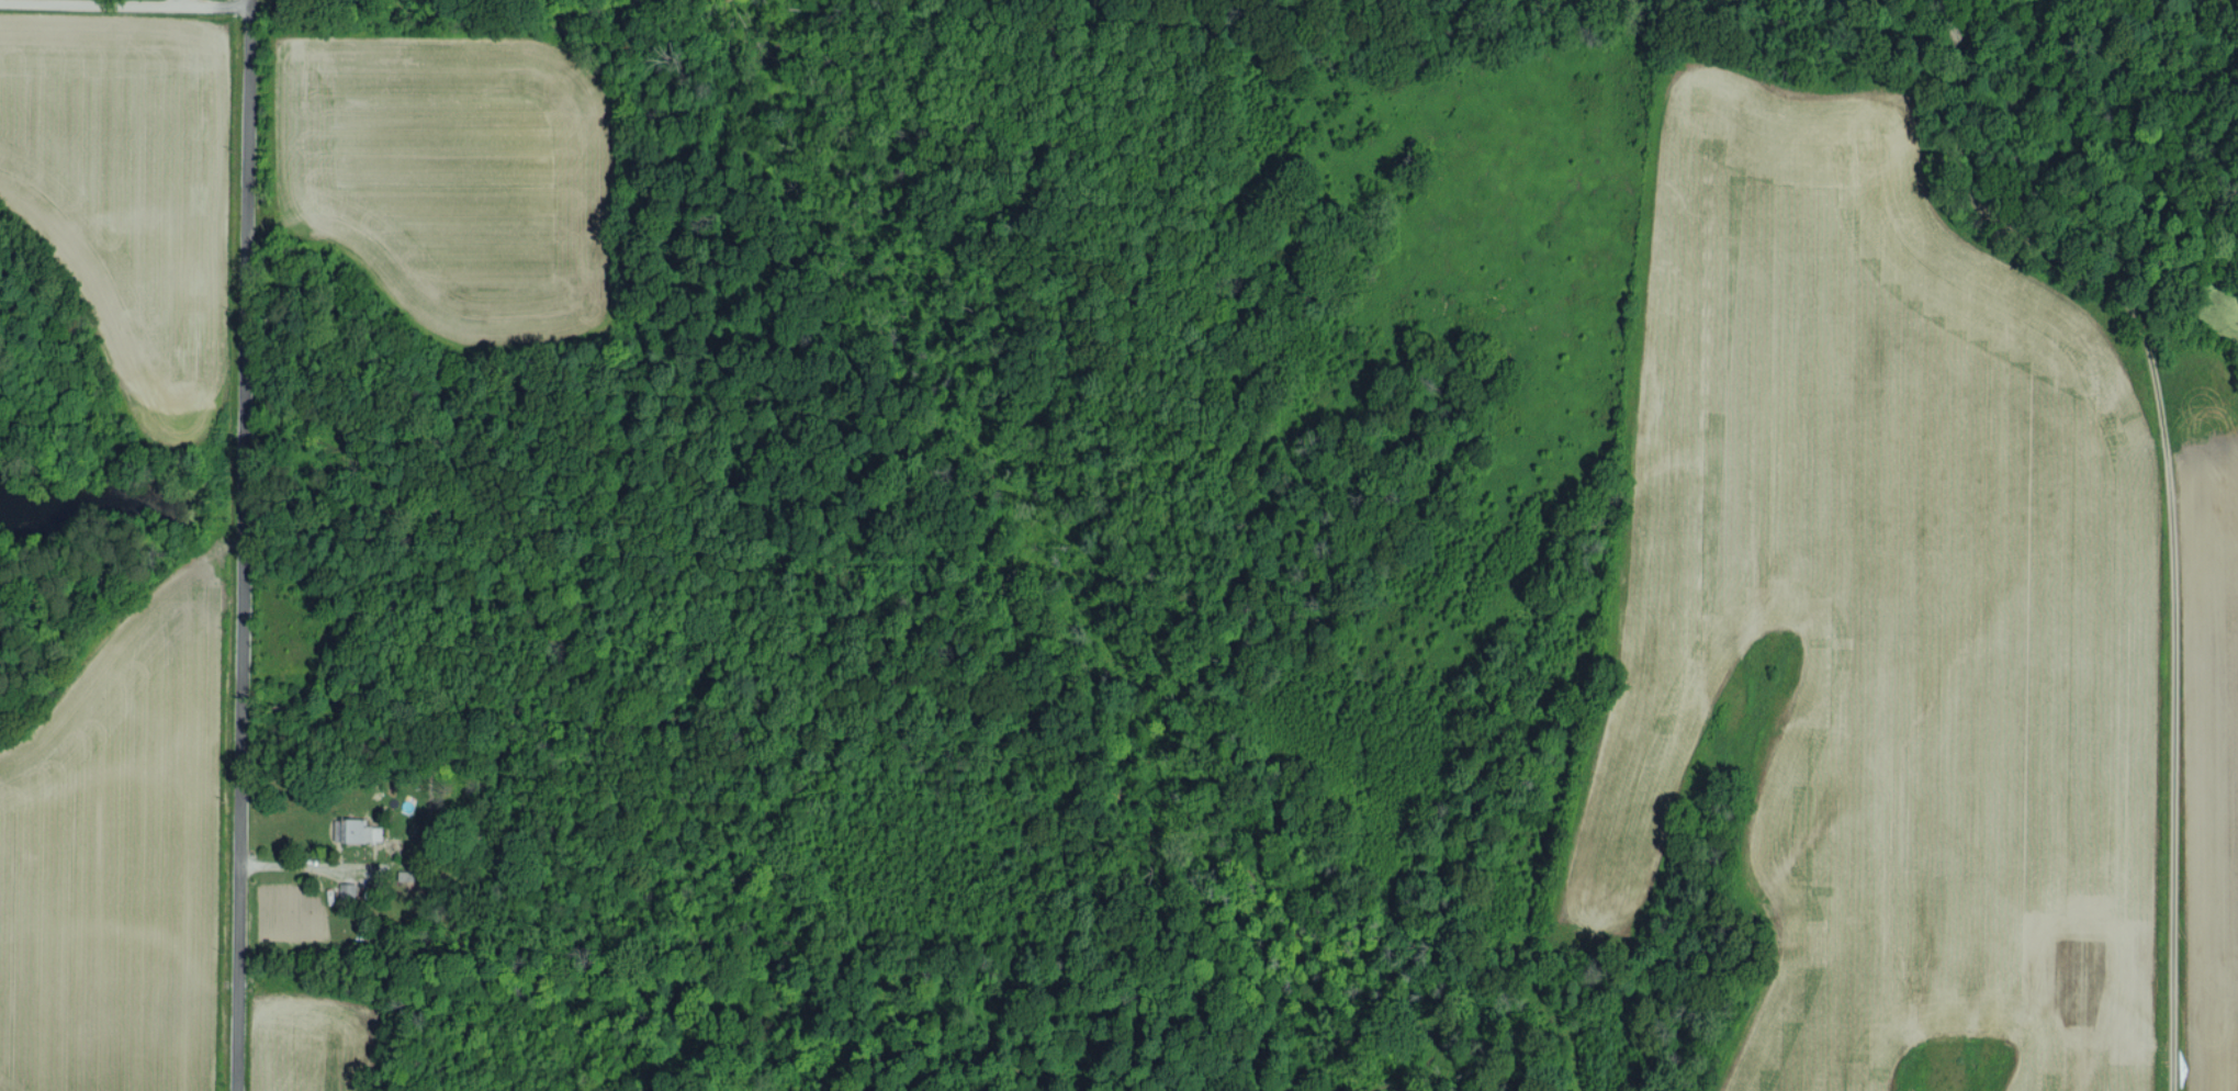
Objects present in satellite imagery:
road: (125, 8)
road: (244, 544)
building: (364, 830)

